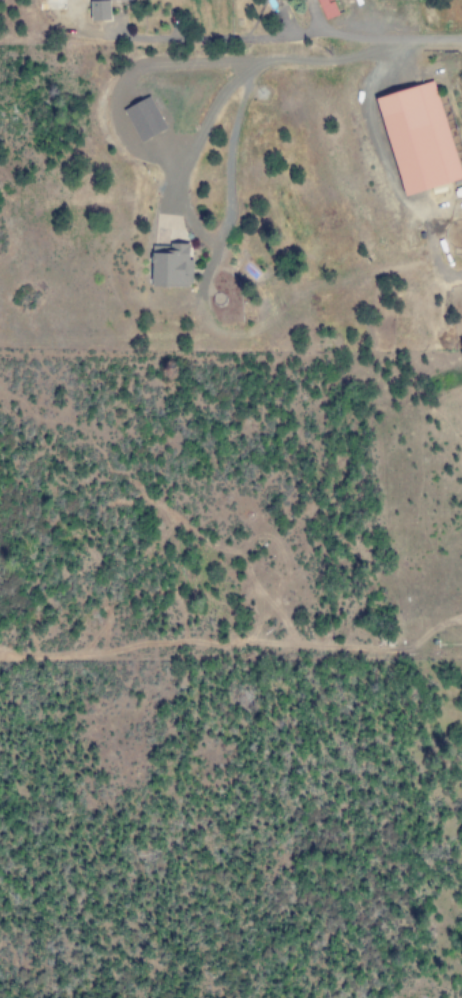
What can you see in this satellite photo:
building: (328, 8)
building: (99, 9)
road: (289, 36)
building: (144, 118)
building: (418, 137)
building: (171, 267)

